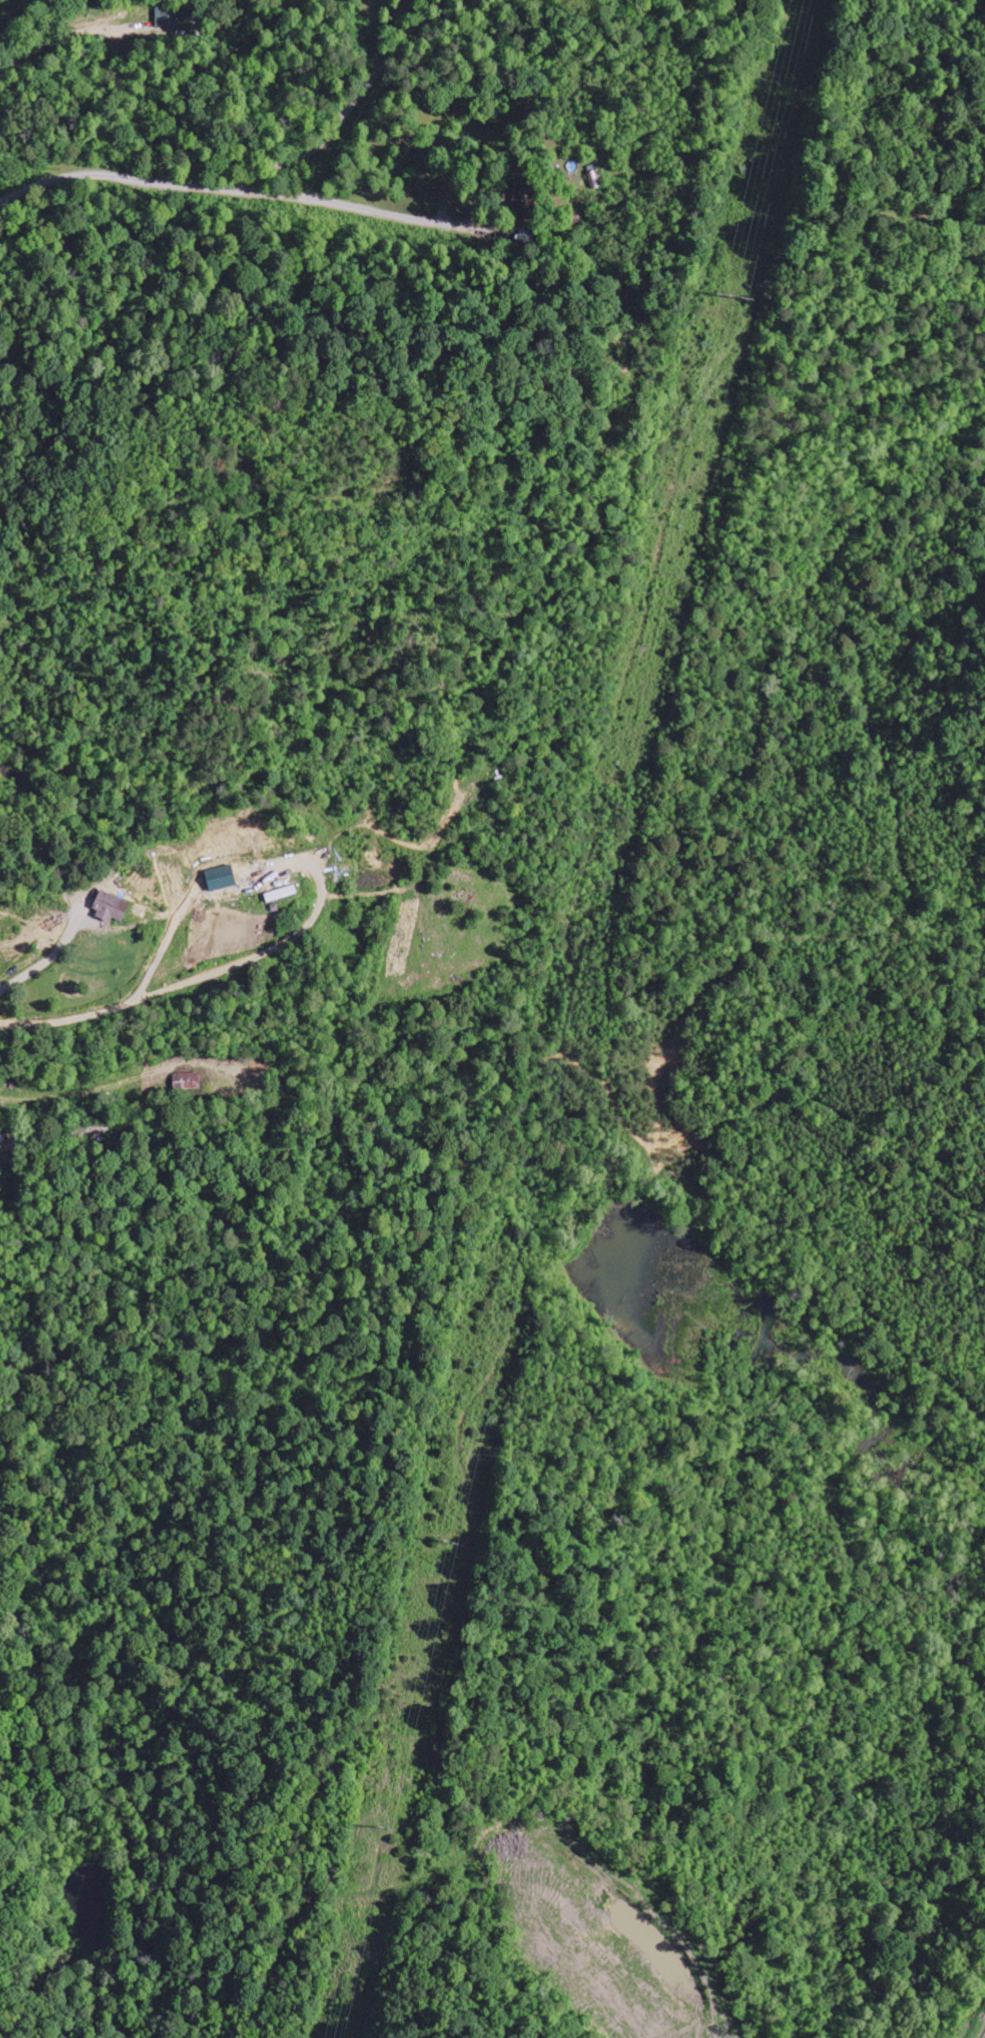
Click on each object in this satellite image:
building: (167, 17)
road: (194, 489)
building: (221, 878)
building: (110, 906)
building: (186, 1081)
building: (1, 1137)

